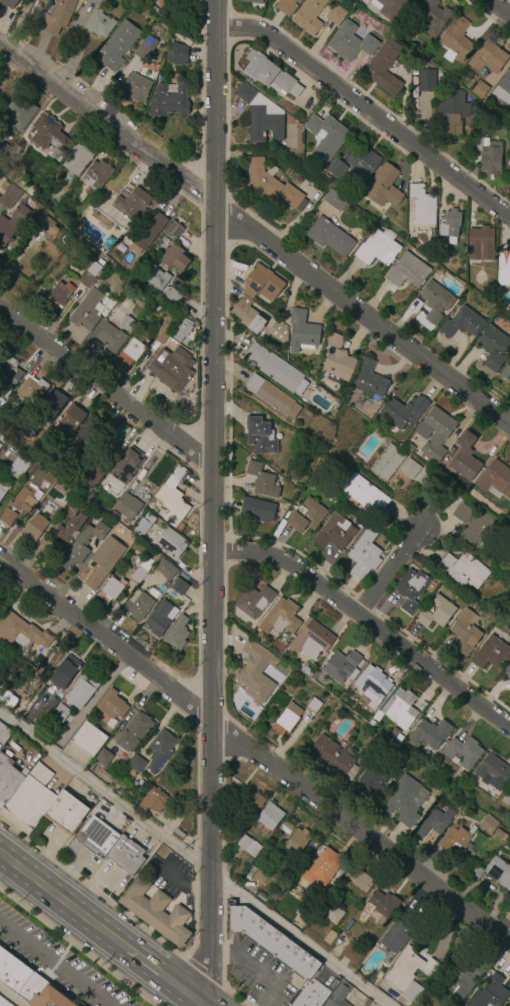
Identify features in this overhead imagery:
building: (98, 1)
building: (150, 1)
building: (254, 1)
building: (10, 3)
building: (163, 3)
building: (286, 6)
building: (389, 7)
road: (496, 9)
building: (309, 15)
building: (335, 15)
building: (57, 16)
building: (433, 18)
building: (99, 24)
building: (456, 40)
building: (350, 42)
building: (116, 47)
building: (143, 51)
building: (177, 54)
building: (487, 57)
building: (384, 66)
building: (269, 73)
building: (162, 79)
building: (426, 80)
building: (136, 87)
building: (503, 88)
building: (479, 89)
building: (168, 102)
building: (451, 112)
road: (366, 113)
building: (18, 115)
building: (260, 115)
road: (107, 133)
building: (49, 136)
building: (326, 137)
building: (2, 149)
building: (14, 153)
building: (489, 156)
building: (77, 158)
building: (362, 164)
building: (44, 166)
building: (337, 170)
building: (98, 174)
building: (272, 185)
building: (383, 186)
building: (29, 192)
building: (10, 197)
building: (335, 198)
building: (131, 202)
building: (423, 209)
building: (11, 224)
building: (450, 226)
building: (174, 230)
building: (409, 231)
building: (146, 234)
building: (51, 235)
building: (329, 236)
building: (183, 242)
building: (480, 243)
building: (378, 248)
building: (47, 249)
building: (174, 257)
building: (503, 268)
building: (408, 271)
building: (90, 273)
building: (155, 277)
building: (262, 284)
building: (58, 294)
building: (172, 296)
building: (435, 301)
building: (86, 310)
building: (247, 315)
road: (365, 316)
building: (126, 324)
building: (463, 324)
building: (182, 330)
building: (163, 331)
building: (302, 332)
building: (279, 334)
building: (111, 338)
building: (494, 348)
building: (131, 351)
building: (337, 360)
building: (274, 367)
building: (171, 368)
building: (506, 373)
building: (10, 376)
building: (369, 381)
road: (108, 384)
building: (31, 388)
building: (271, 397)
building: (52, 407)
building: (403, 412)
building: (70, 420)
building: (33, 423)
building: (435, 433)
building: (88, 435)
building: (259, 435)
building: (2, 441)
building: (117, 452)
building: (465, 458)
building: (387, 463)
building: (18, 467)
building: (125, 468)
building: (409, 469)
building: (92, 471)
building: (294, 474)
building: (495, 480)
building: (262, 481)
building: (3, 487)
building: (363, 492)
building: (173, 497)
building: (26, 498)
road: (214, 500)
building: (76, 505)
building: (127, 506)
building: (37, 509)
building: (259, 509)
building: (114, 515)
building: (7, 516)
building: (306, 516)
building: (143, 524)
building: (474, 525)
building: (34, 528)
building: (70, 528)
building: (334, 532)
building: (171, 543)
building: (82, 545)
building: (364, 555)
building: (104, 561)
building: (143, 568)
building: (166, 570)
building: (464, 571)
road: (387, 575)
building: (179, 587)
building: (111, 588)
building: (410, 589)
building: (153, 594)
building: (254, 602)
building: (137, 606)
building: (437, 613)
building: (160, 618)
building: (280, 618)
building: (509, 619)
road: (368, 624)
building: (21, 632)
building: (463, 632)
building: (176, 634)
building: (312, 639)
building: (490, 653)
building: (342, 666)
building: (64, 671)
building: (508, 672)
building: (256, 673)
building: (273, 675)
building: (314, 675)
building: (373, 684)
building: (82, 691)
building: (509, 691)
building: (7, 698)
building: (57, 699)
building: (314, 705)
road: (85, 707)
building: (112, 707)
building: (400, 708)
building: (60, 713)
building: (286, 719)
building: (372, 724)
building: (134, 732)
building: (430, 733)
building: (4, 734)
building: (398, 738)
building: (88, 739)
building: (160, 749)
building: (463, 751)
road: (256, 755)
building: (103, 757)
building: (333, 757)
building: (402, 760)
building: (124, 761)
building: (134, 766)
building: (492, 772)
building: (115, 773)
building: (373, 778)
building: (8, 779)
building: (120, 780)
building: (506, 799)
building: (29, 800)
building: (404, 800)
building: (153, 801)
building: (249, 801)
building: (66, 812)
building: (269, 817)
building: (435, 821)
building: (488, 825)
building: (285, 827)
building: (237, 833)
building: (500, 834)
building: (177, 835)
parking lot: (50, 837)
building: (455, 838)
building: (296, 842)
building: (111, 845)
building: (248, 845)
parking lot: (79, 859)
building: (461, 859)
road: (2, 861)
road: (191, 862)
building: (323, 867)
building: (350, 872)
building: (474, 872)
building: (499, 872)
building: (261, 874)
parking lot: (172, 878)
parking lot: (109, 880)
building: (362, 882)
road: (62, 902)
building: (384, 904)
building: (156, 912)
building: (332, 913)
building: (396, 936)
building: (329, 937)
road: (221, 952)
building: (352, 952)
building: (280, 954)
road: (55, 962)
parking lot: (55, 964)
road: (156, 972)
parking lot: (259, 974)
building: (410, 974)
road: (264, 977)
building: (467, 977)
building: (29, 984)
building: (488, 994)
building: (338, 995)
road: (194, 1000)
building: (3, 1003)
building: (366, 1003)
building: (370, 1005)

